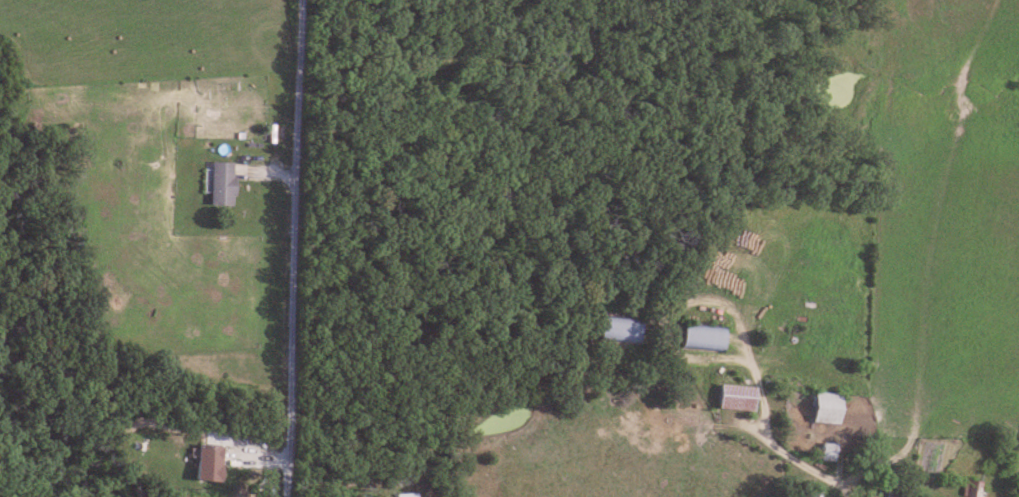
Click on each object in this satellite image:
building: (221, 183)
road: (296, 248)
building: (618, 330)
building: (700, 337)
building: (732, 396)
building: (820, 406)
road: (776, 447)
building: (824, 451)
building: (205, 462)
building: (969, 488)
building: (811, 493)
building: (886, 493)
building: (405, 495)

